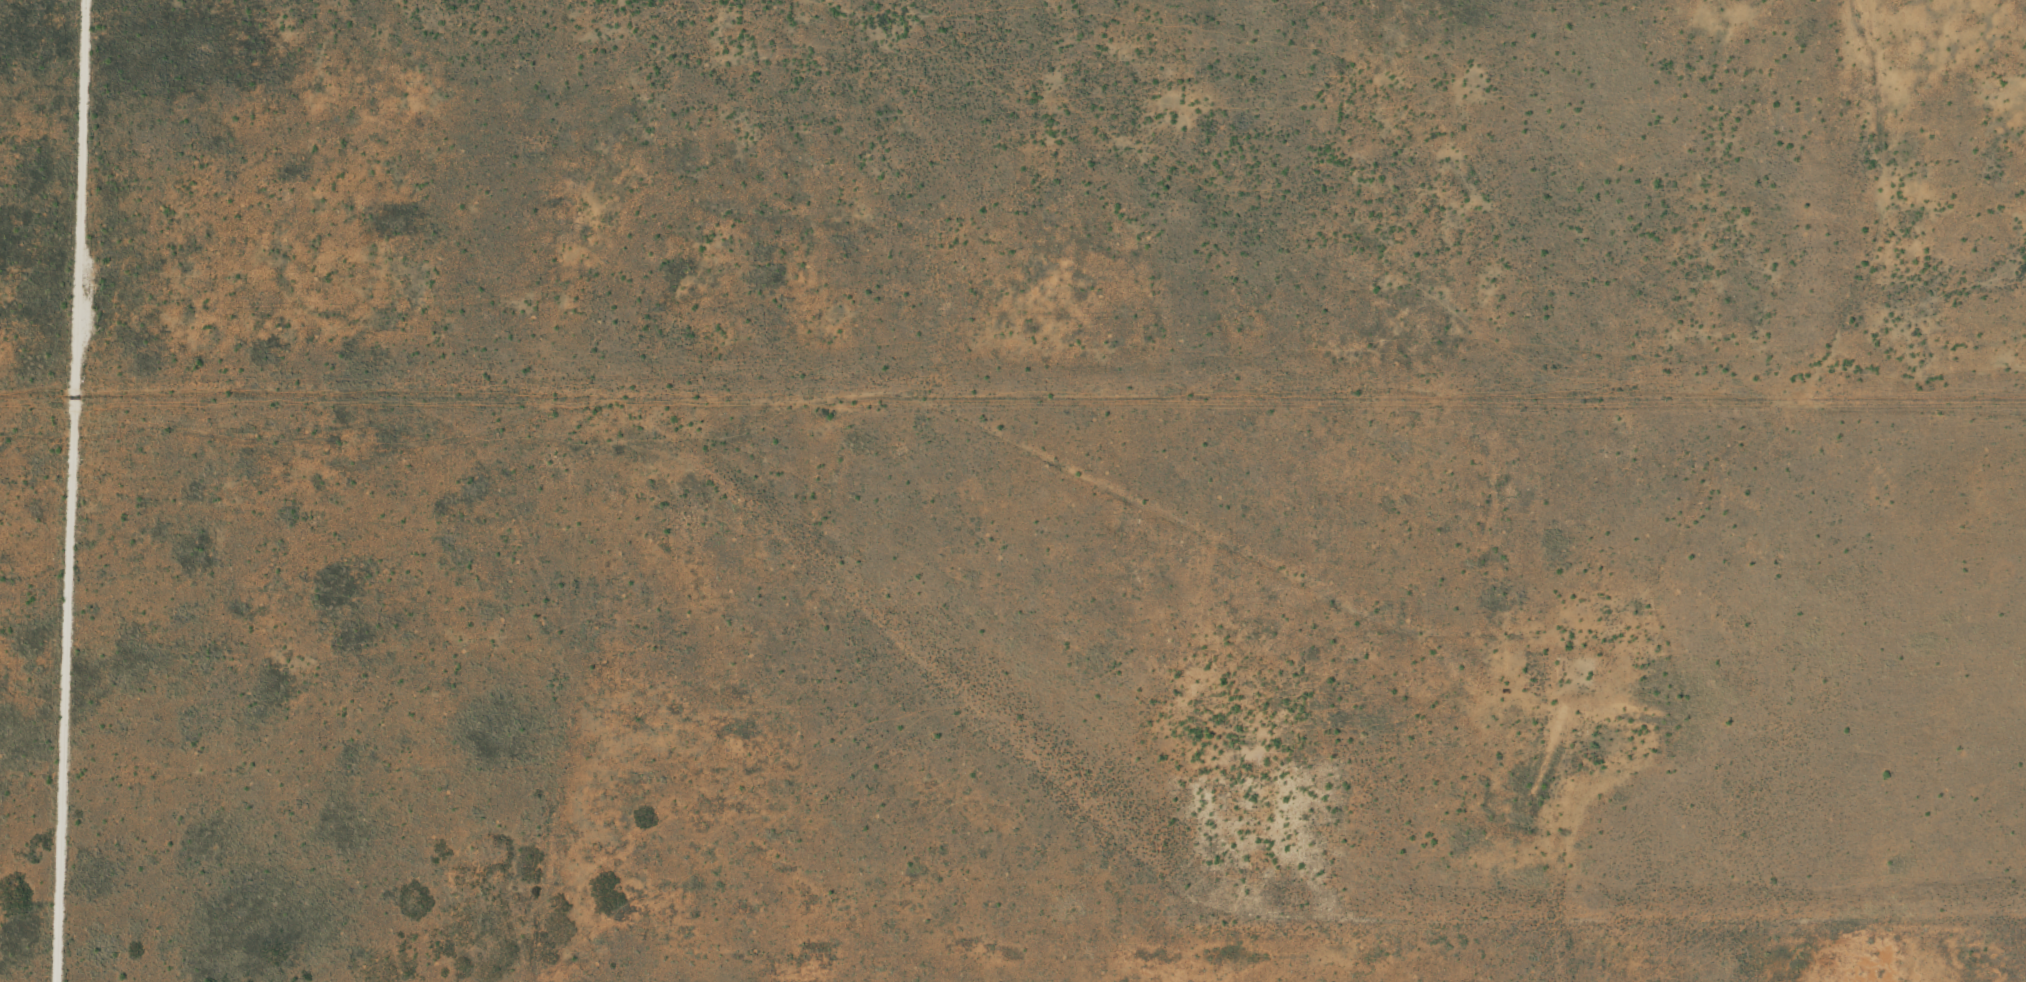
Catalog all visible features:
road: (1754, 469)
road: (570, 676)
road: (1414, 929)

